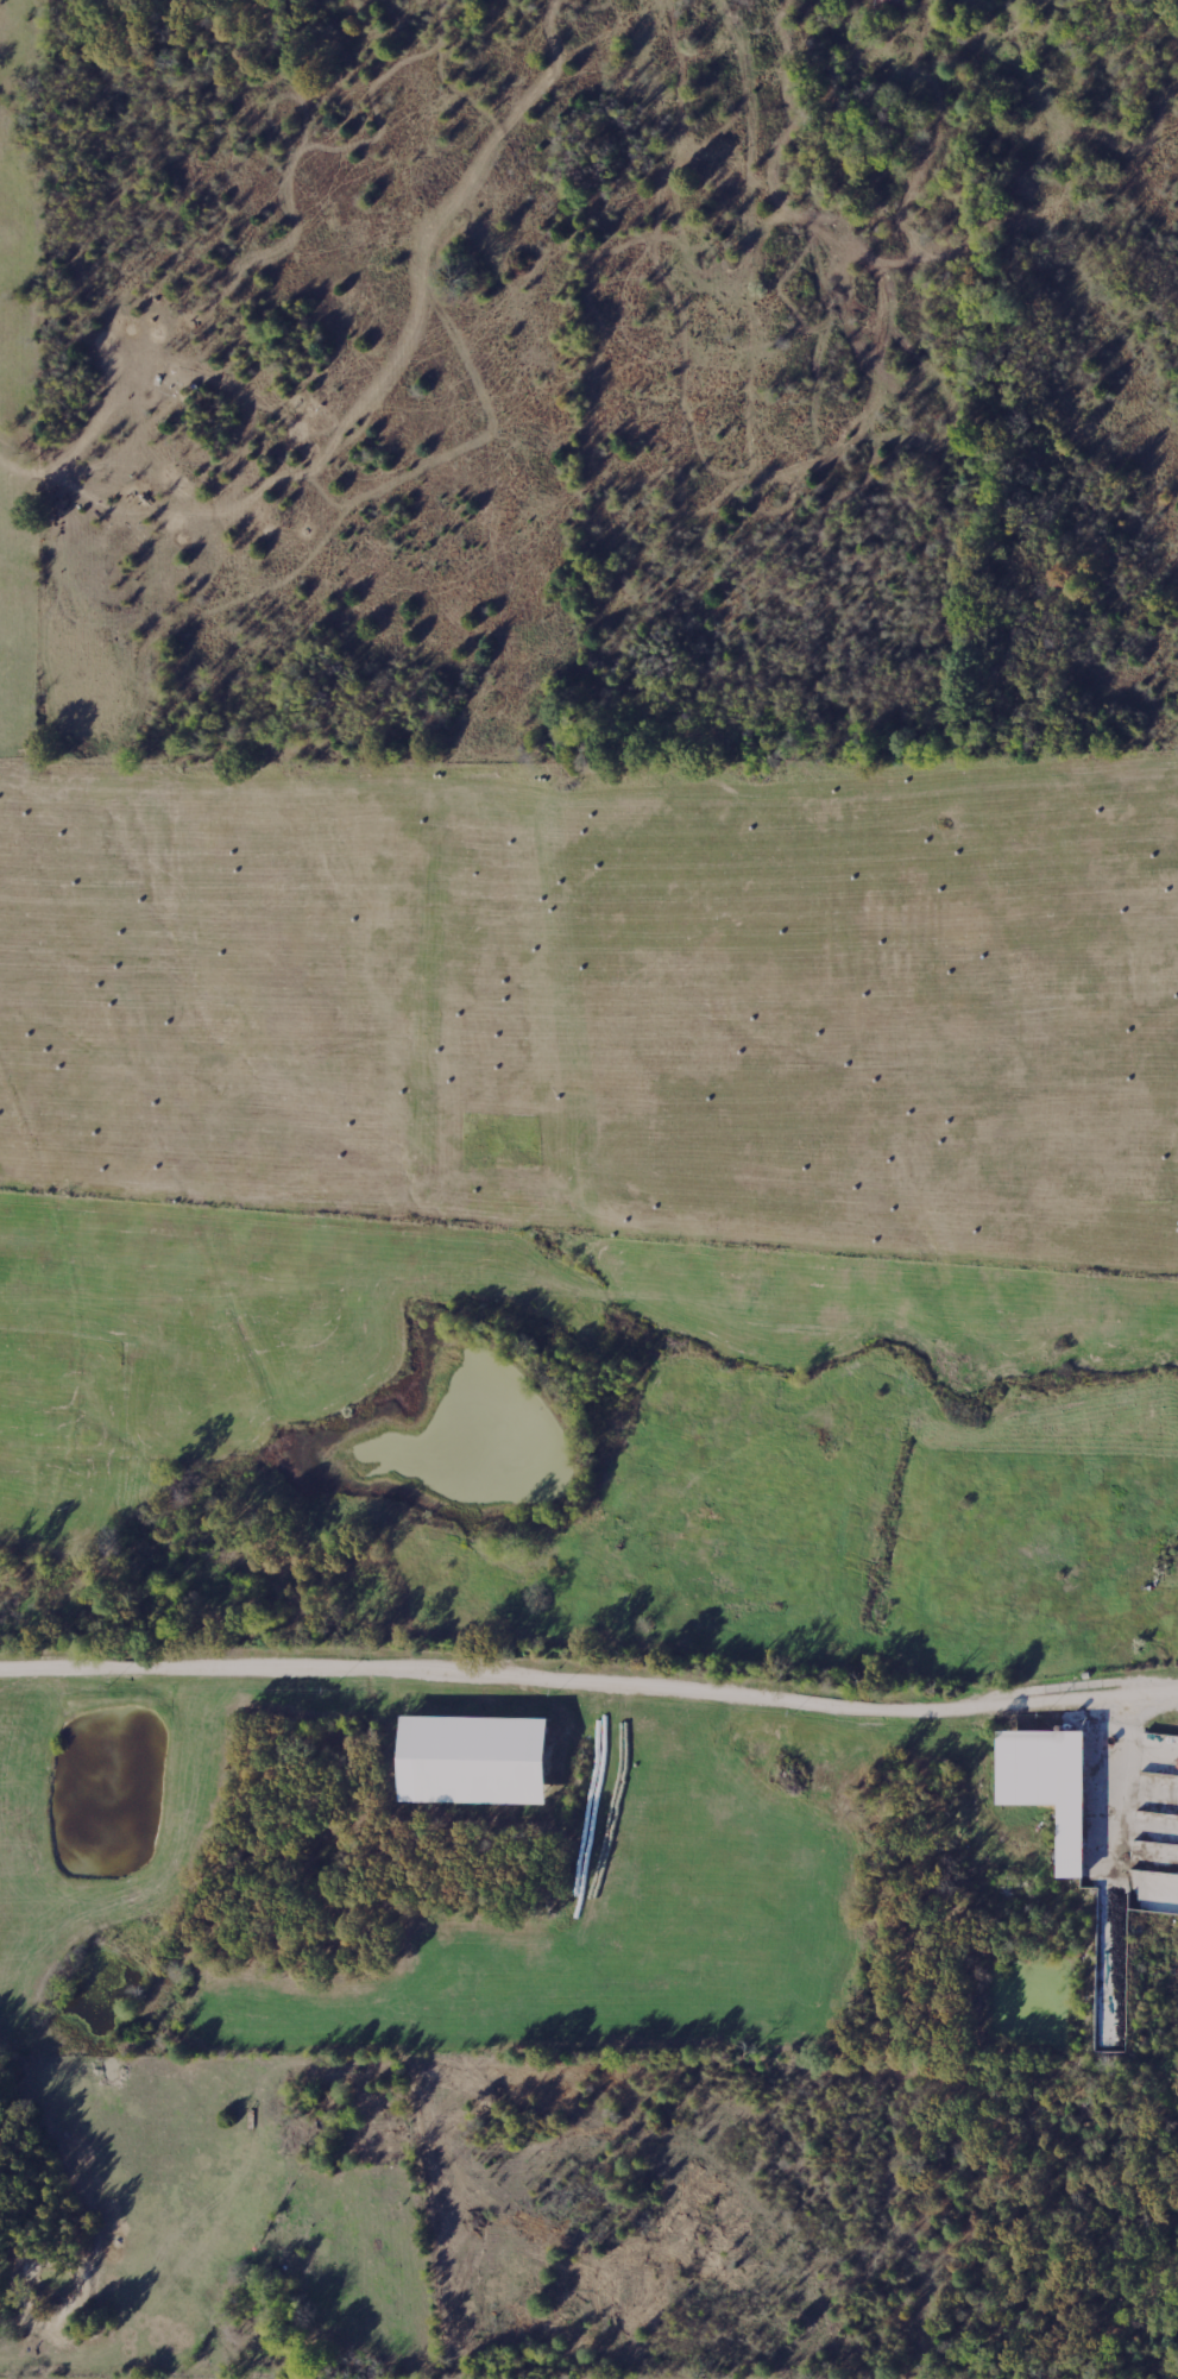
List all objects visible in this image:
road: (588, 1686)
building: (479, 1760)
building: (1051, 1785)

